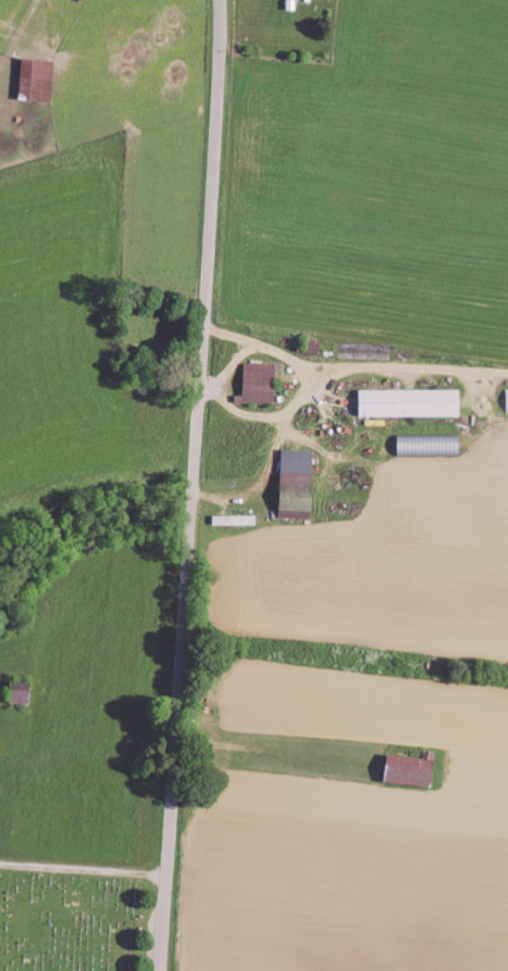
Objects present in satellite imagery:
building: (40, 79)
building: (262, 384)
building: (300, 483)
road: (194, 485)
building: (415, 771)
park: (71, 914)

